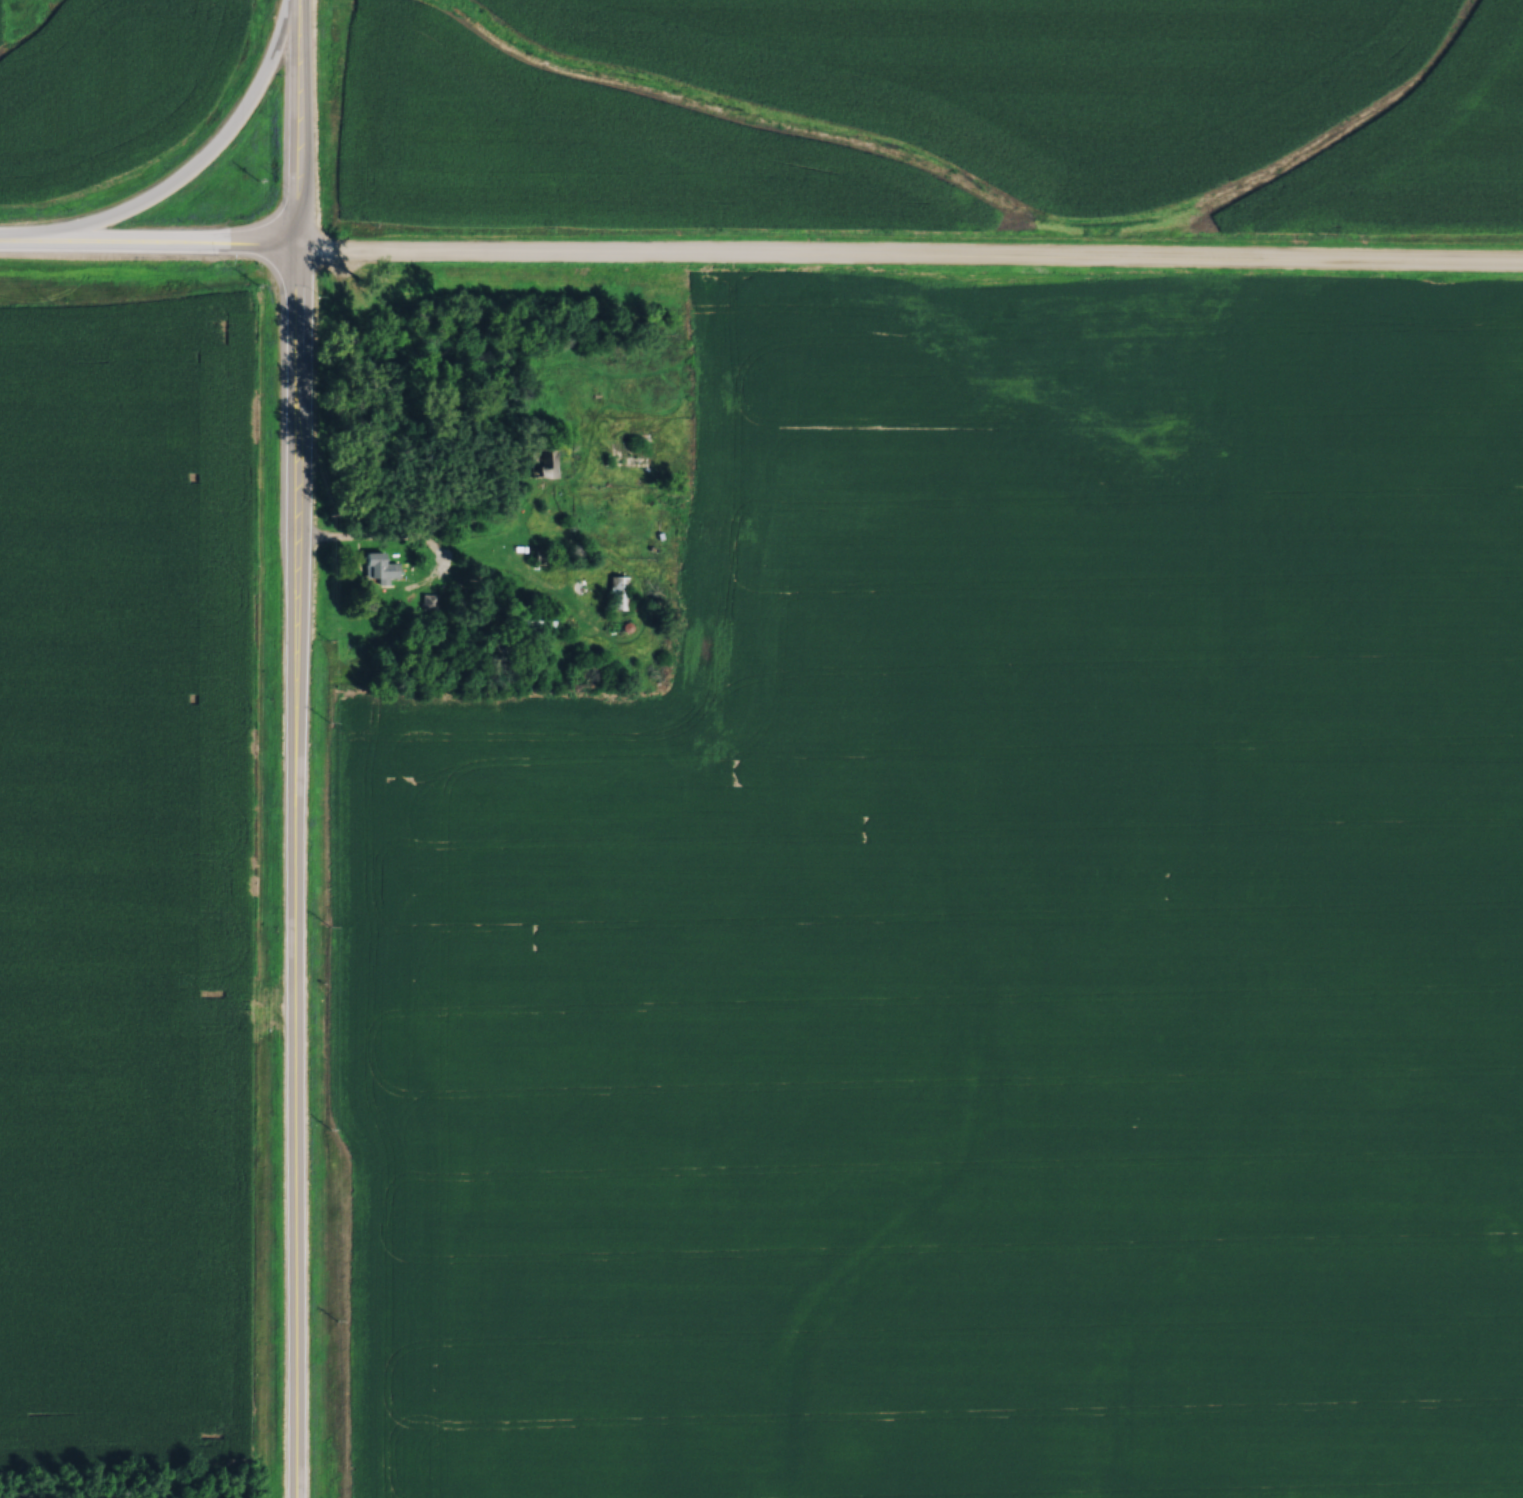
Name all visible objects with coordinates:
road: (297, 120)
road: (185, 167)
building: (183, 168)
street lamp: (275, 174)
street lamp: (71, 205)
road: (149, 237)
road: (910, 251)
street lamp: (226, 259)
power tower: (363, 280)
street lamp: (320, 294)
road: (297, 416)
building: (541, 460)
road: (378, 540)
building: (535, 553)
building: (377, 565)
building: (616, 591)
building: (533, 619)
road: (293, 1044)

